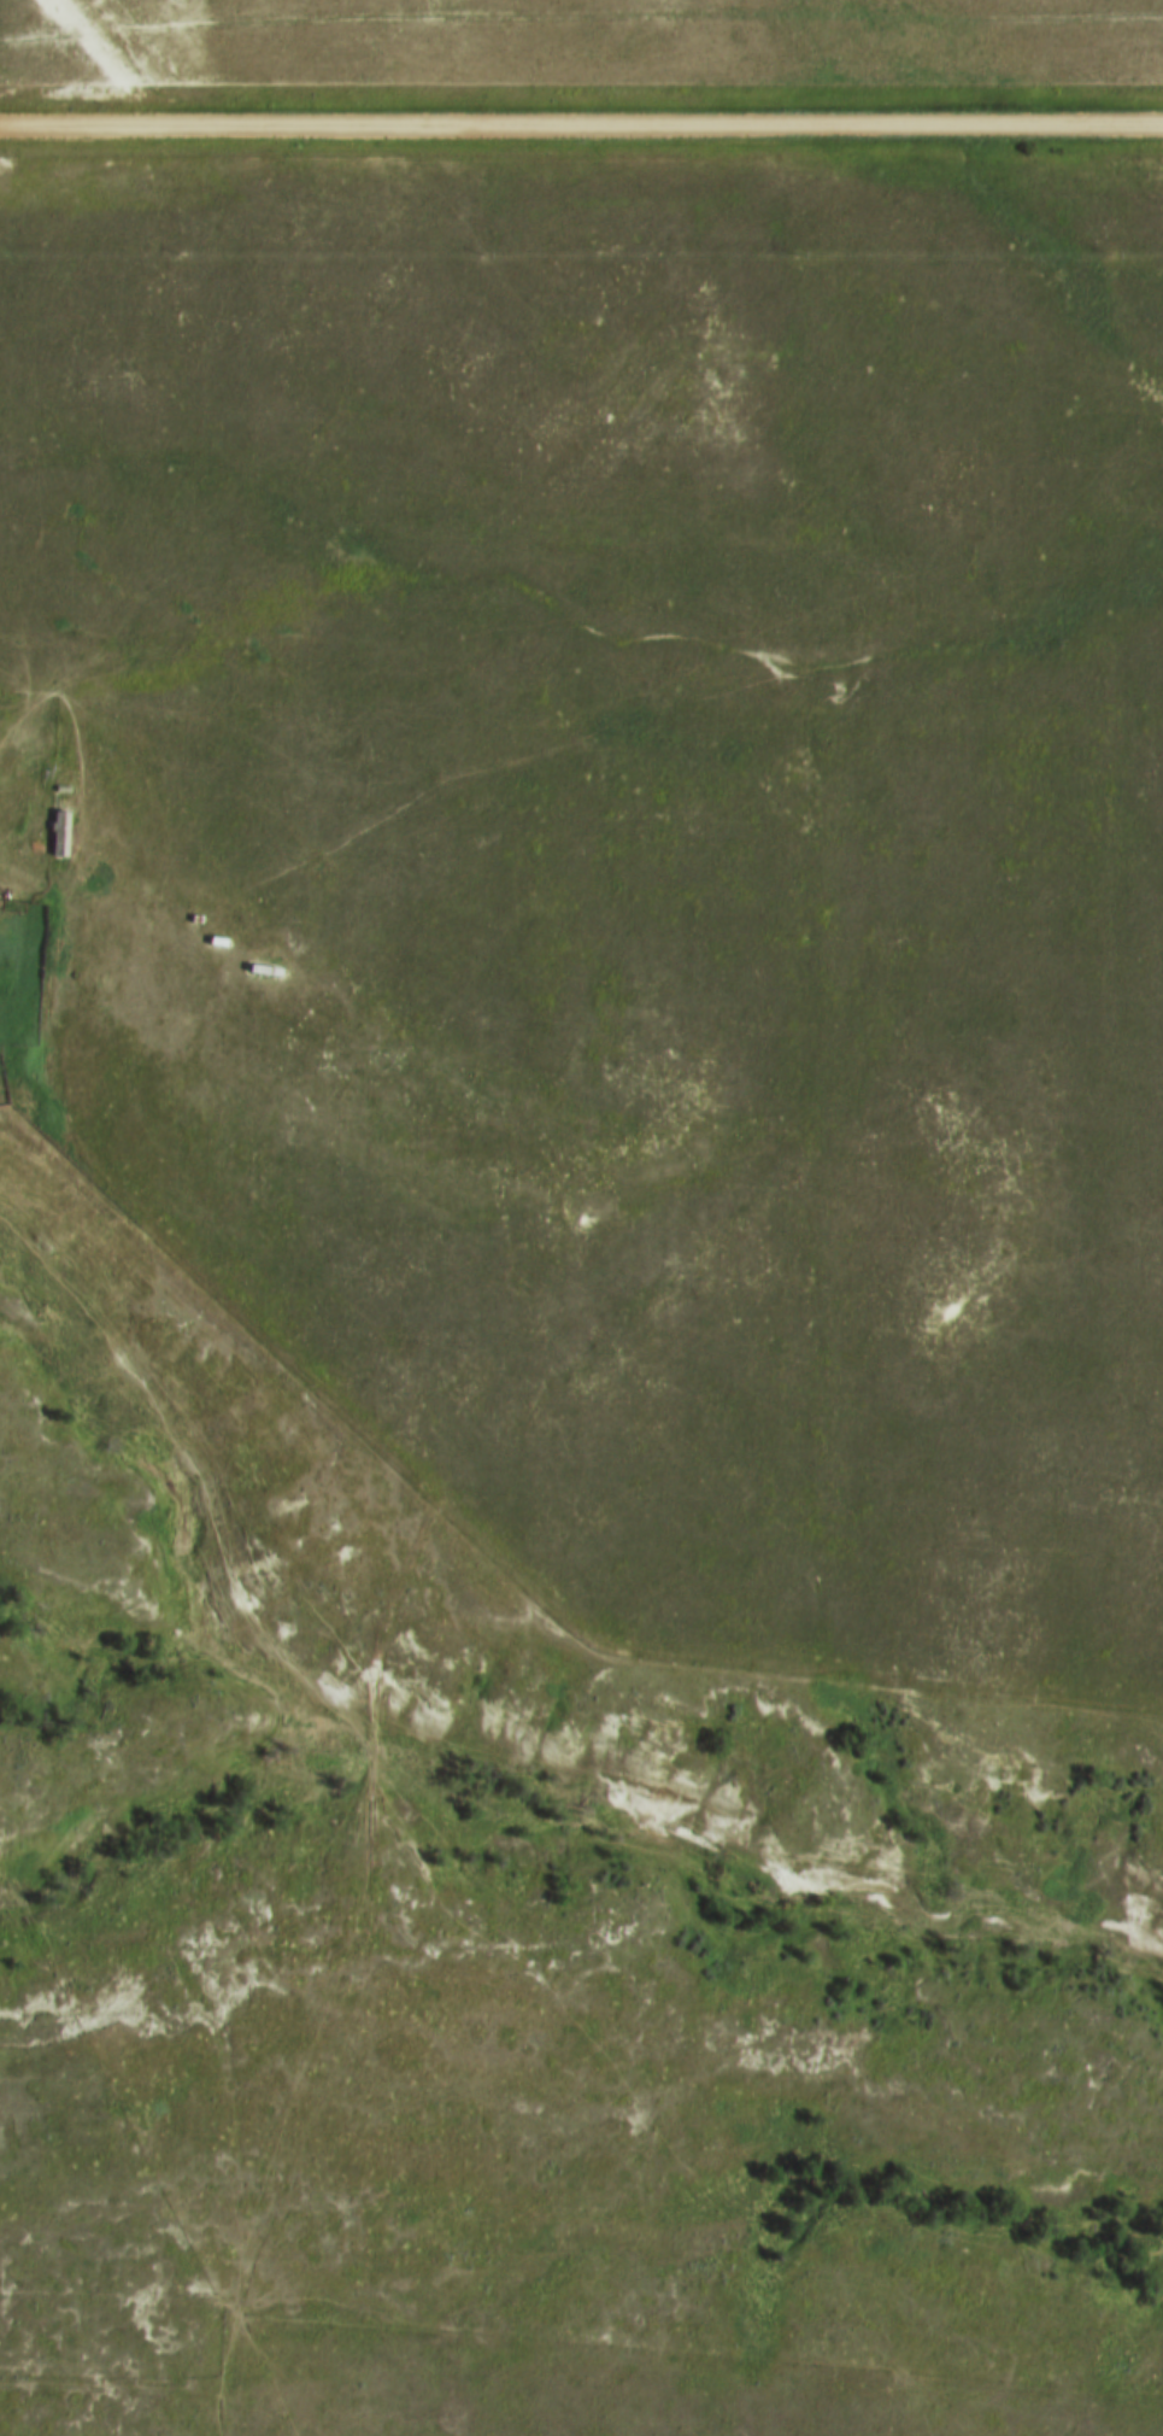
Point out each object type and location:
road: (581, 130)
road: (24, 883)

